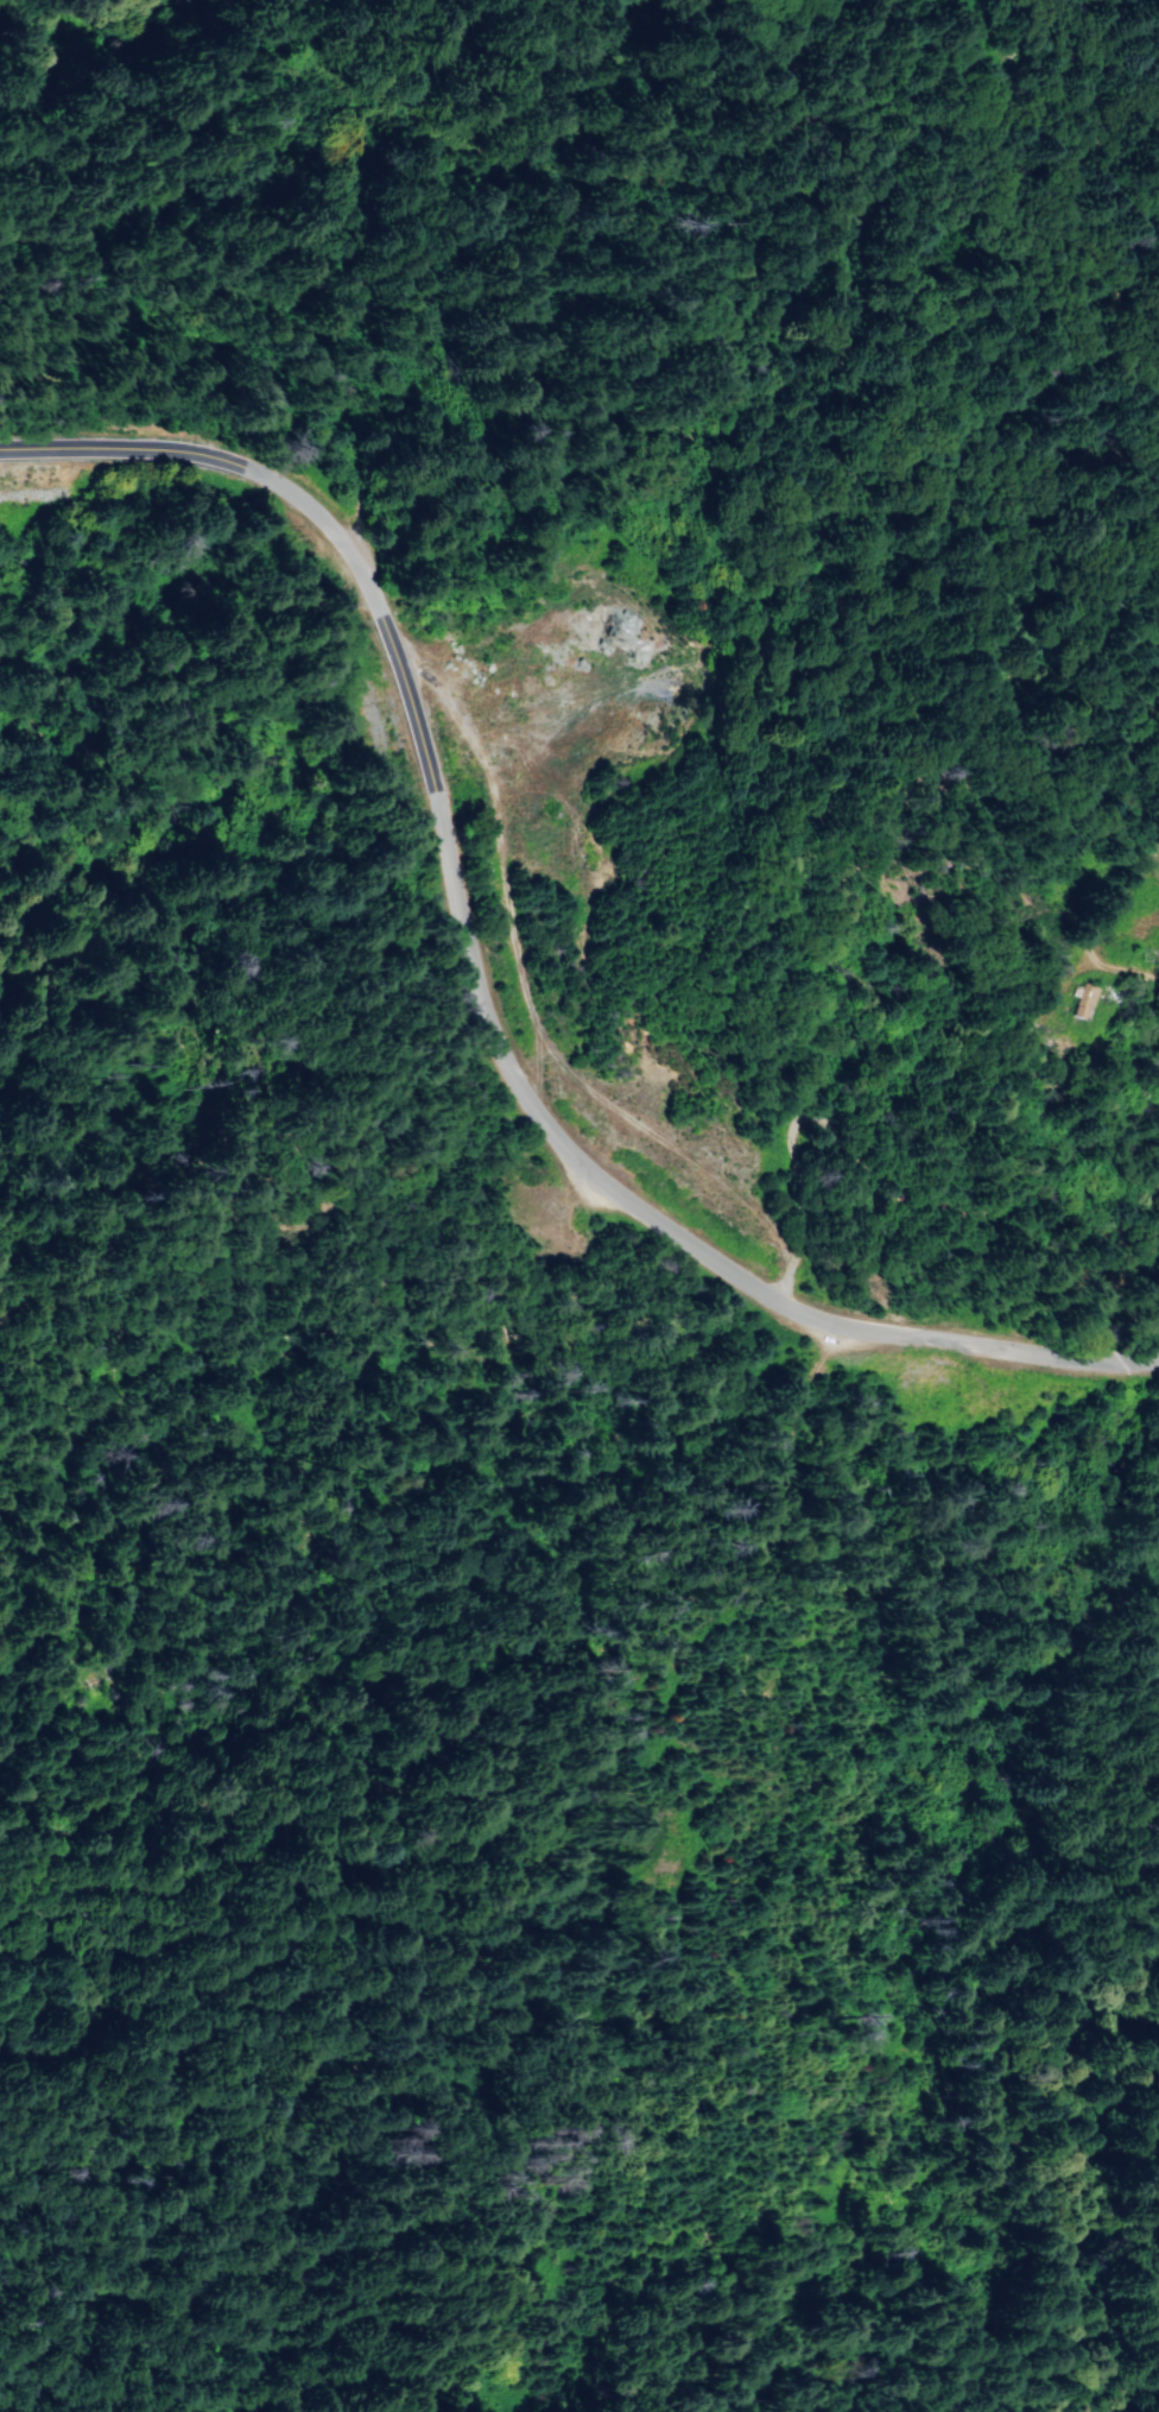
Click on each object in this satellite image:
road: (487, 775)
road: (1090, 965)
road: (474, 993)
road: (887, 1196)

